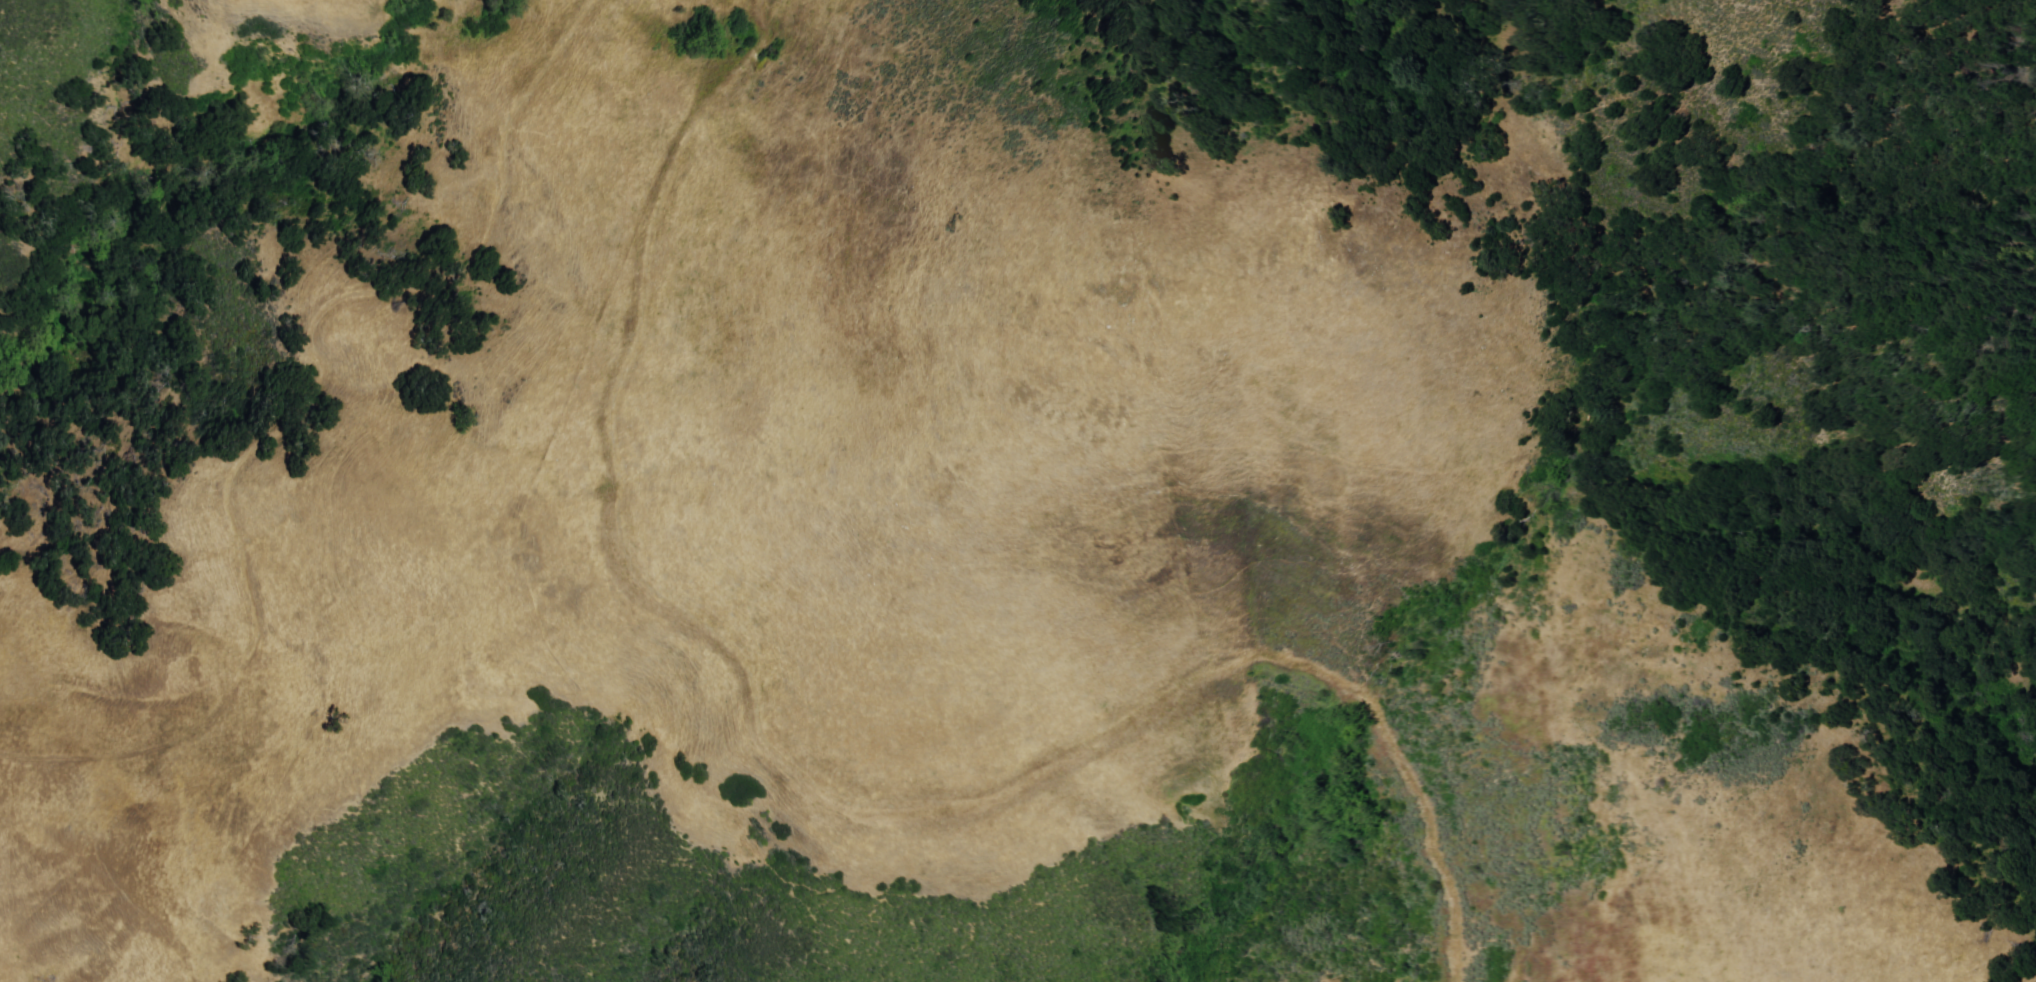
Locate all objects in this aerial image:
road: (807, 790)

